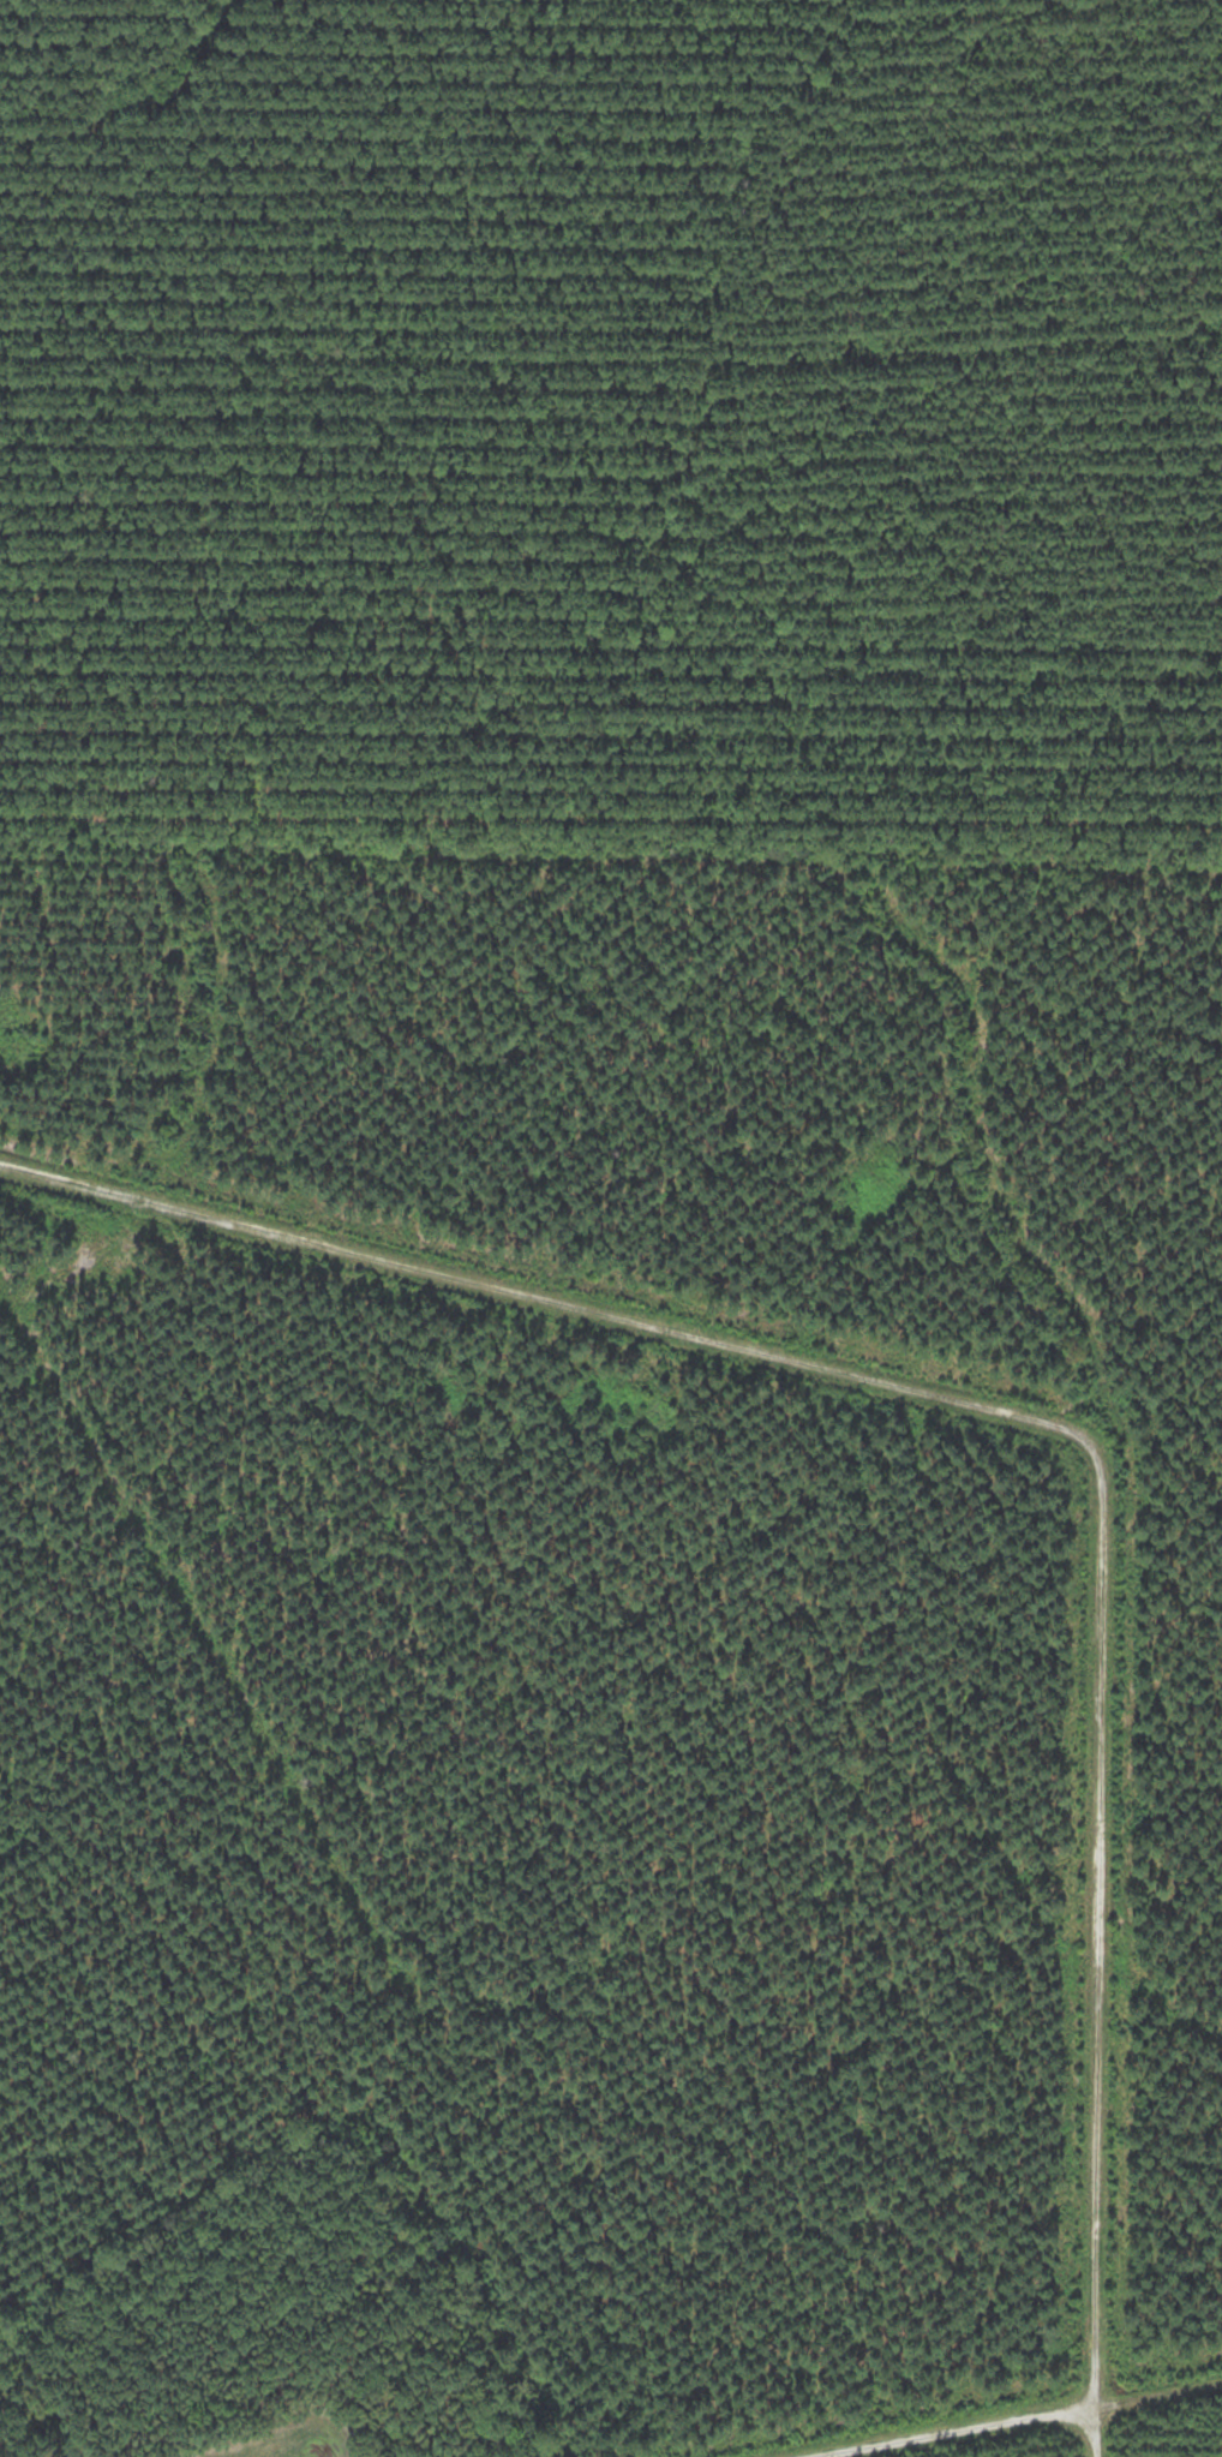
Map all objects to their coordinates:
road: (1037, 1422)
road: (939, 2429)

